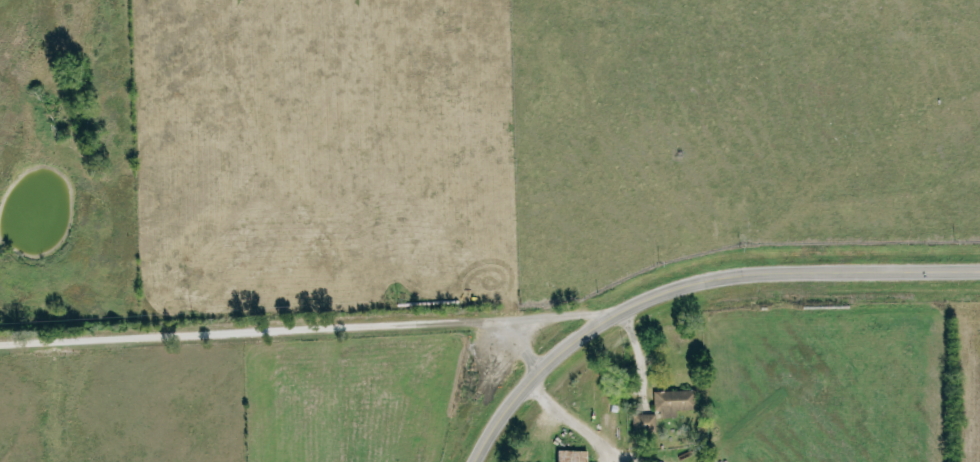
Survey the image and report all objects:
road: (692, 285)
building: (670, 402)
building: (643, 423)
building: (569, 455)

